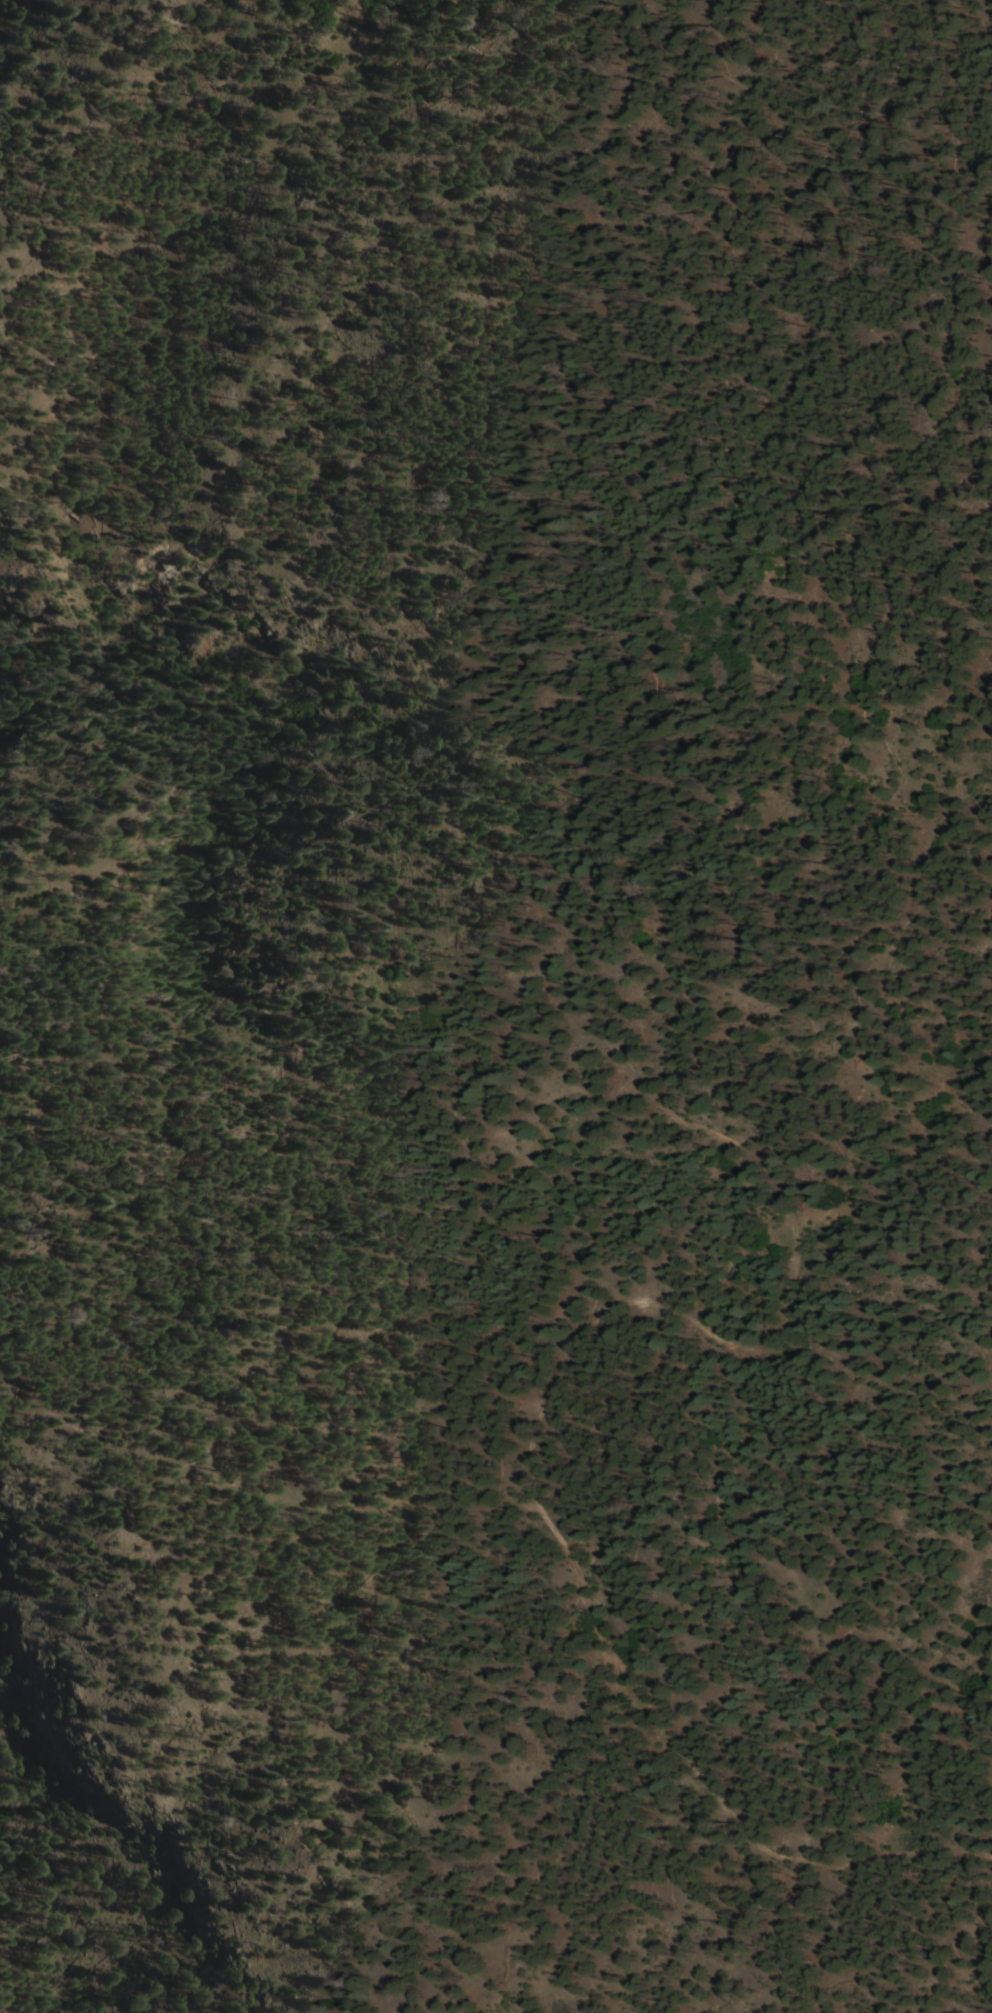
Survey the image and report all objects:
road: (989, 1681)
road: (569, 1977)

